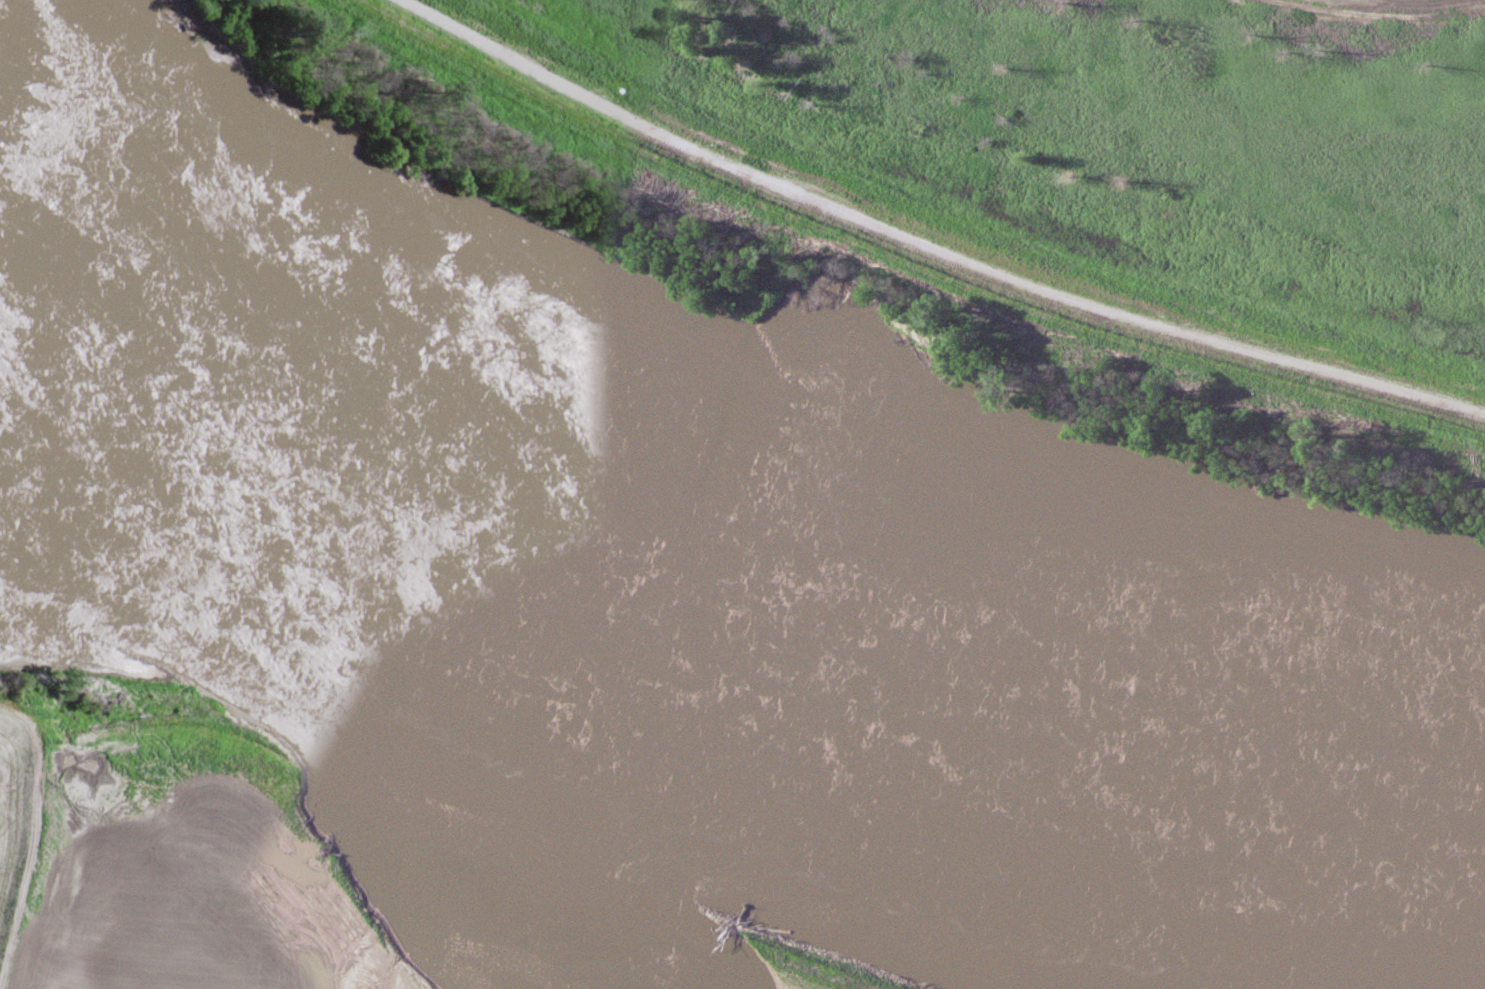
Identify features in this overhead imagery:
road: (924, 247)
river: (725, 579)

